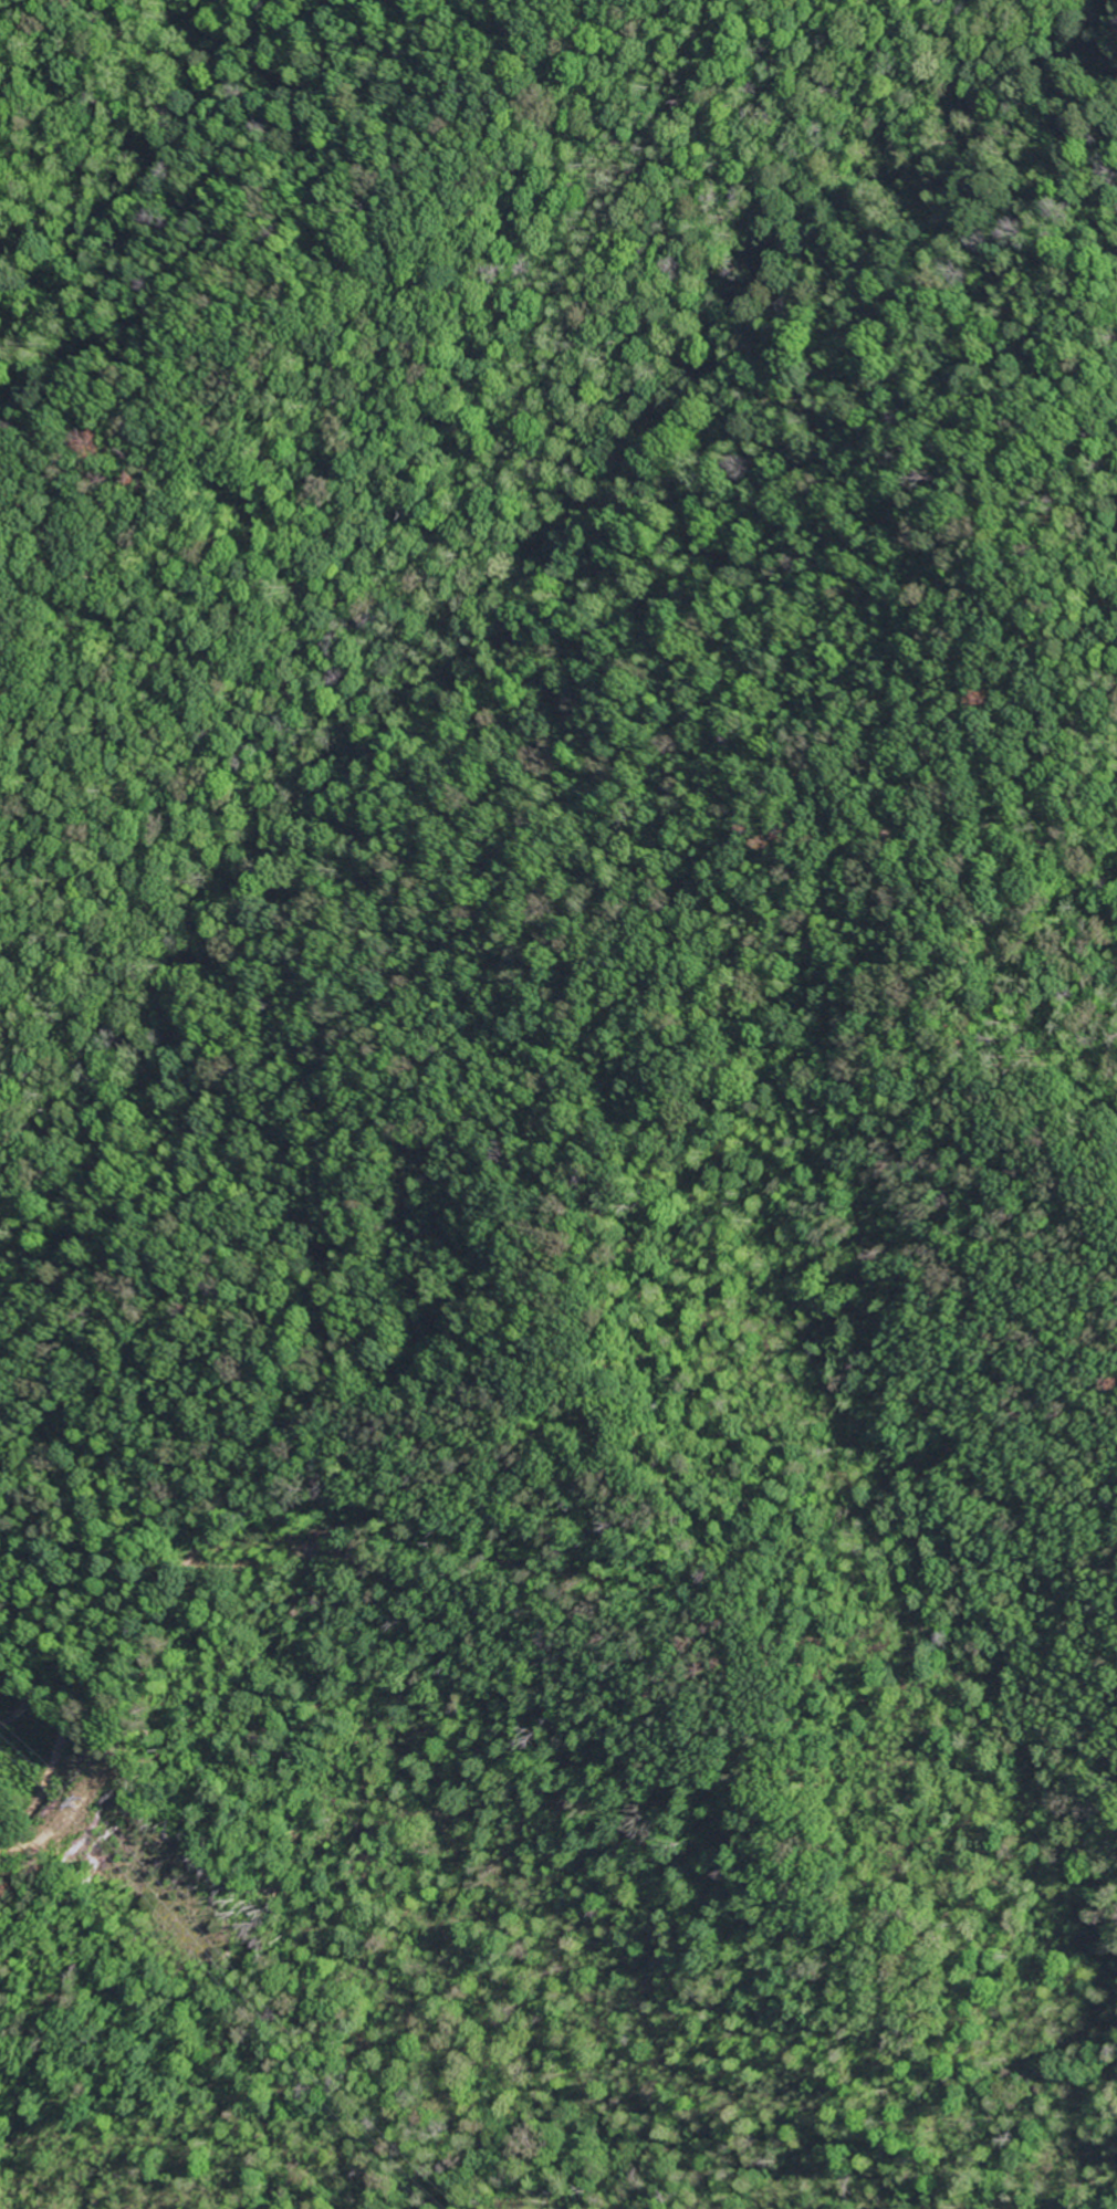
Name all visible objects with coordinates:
power tower: (74, 1801)

